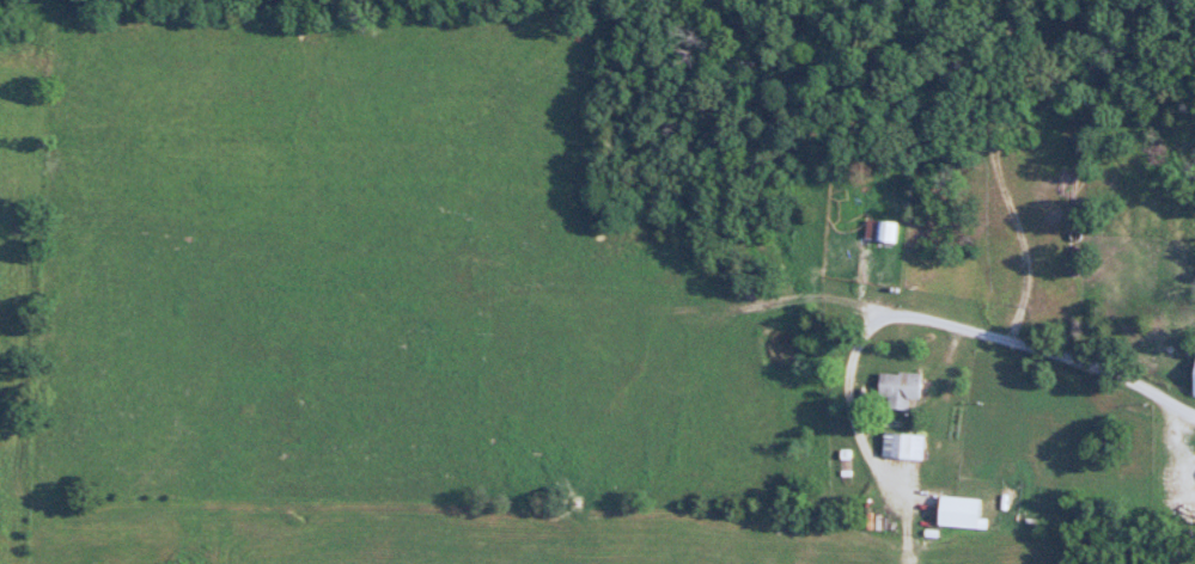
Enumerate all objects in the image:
road: (1000, 171)
building: (880, 231)
road: (980, 332)
building: (1194, 384)
building: (898, 388)
road: (854, 418)
building: (907, 446)
building: (958, 511)

